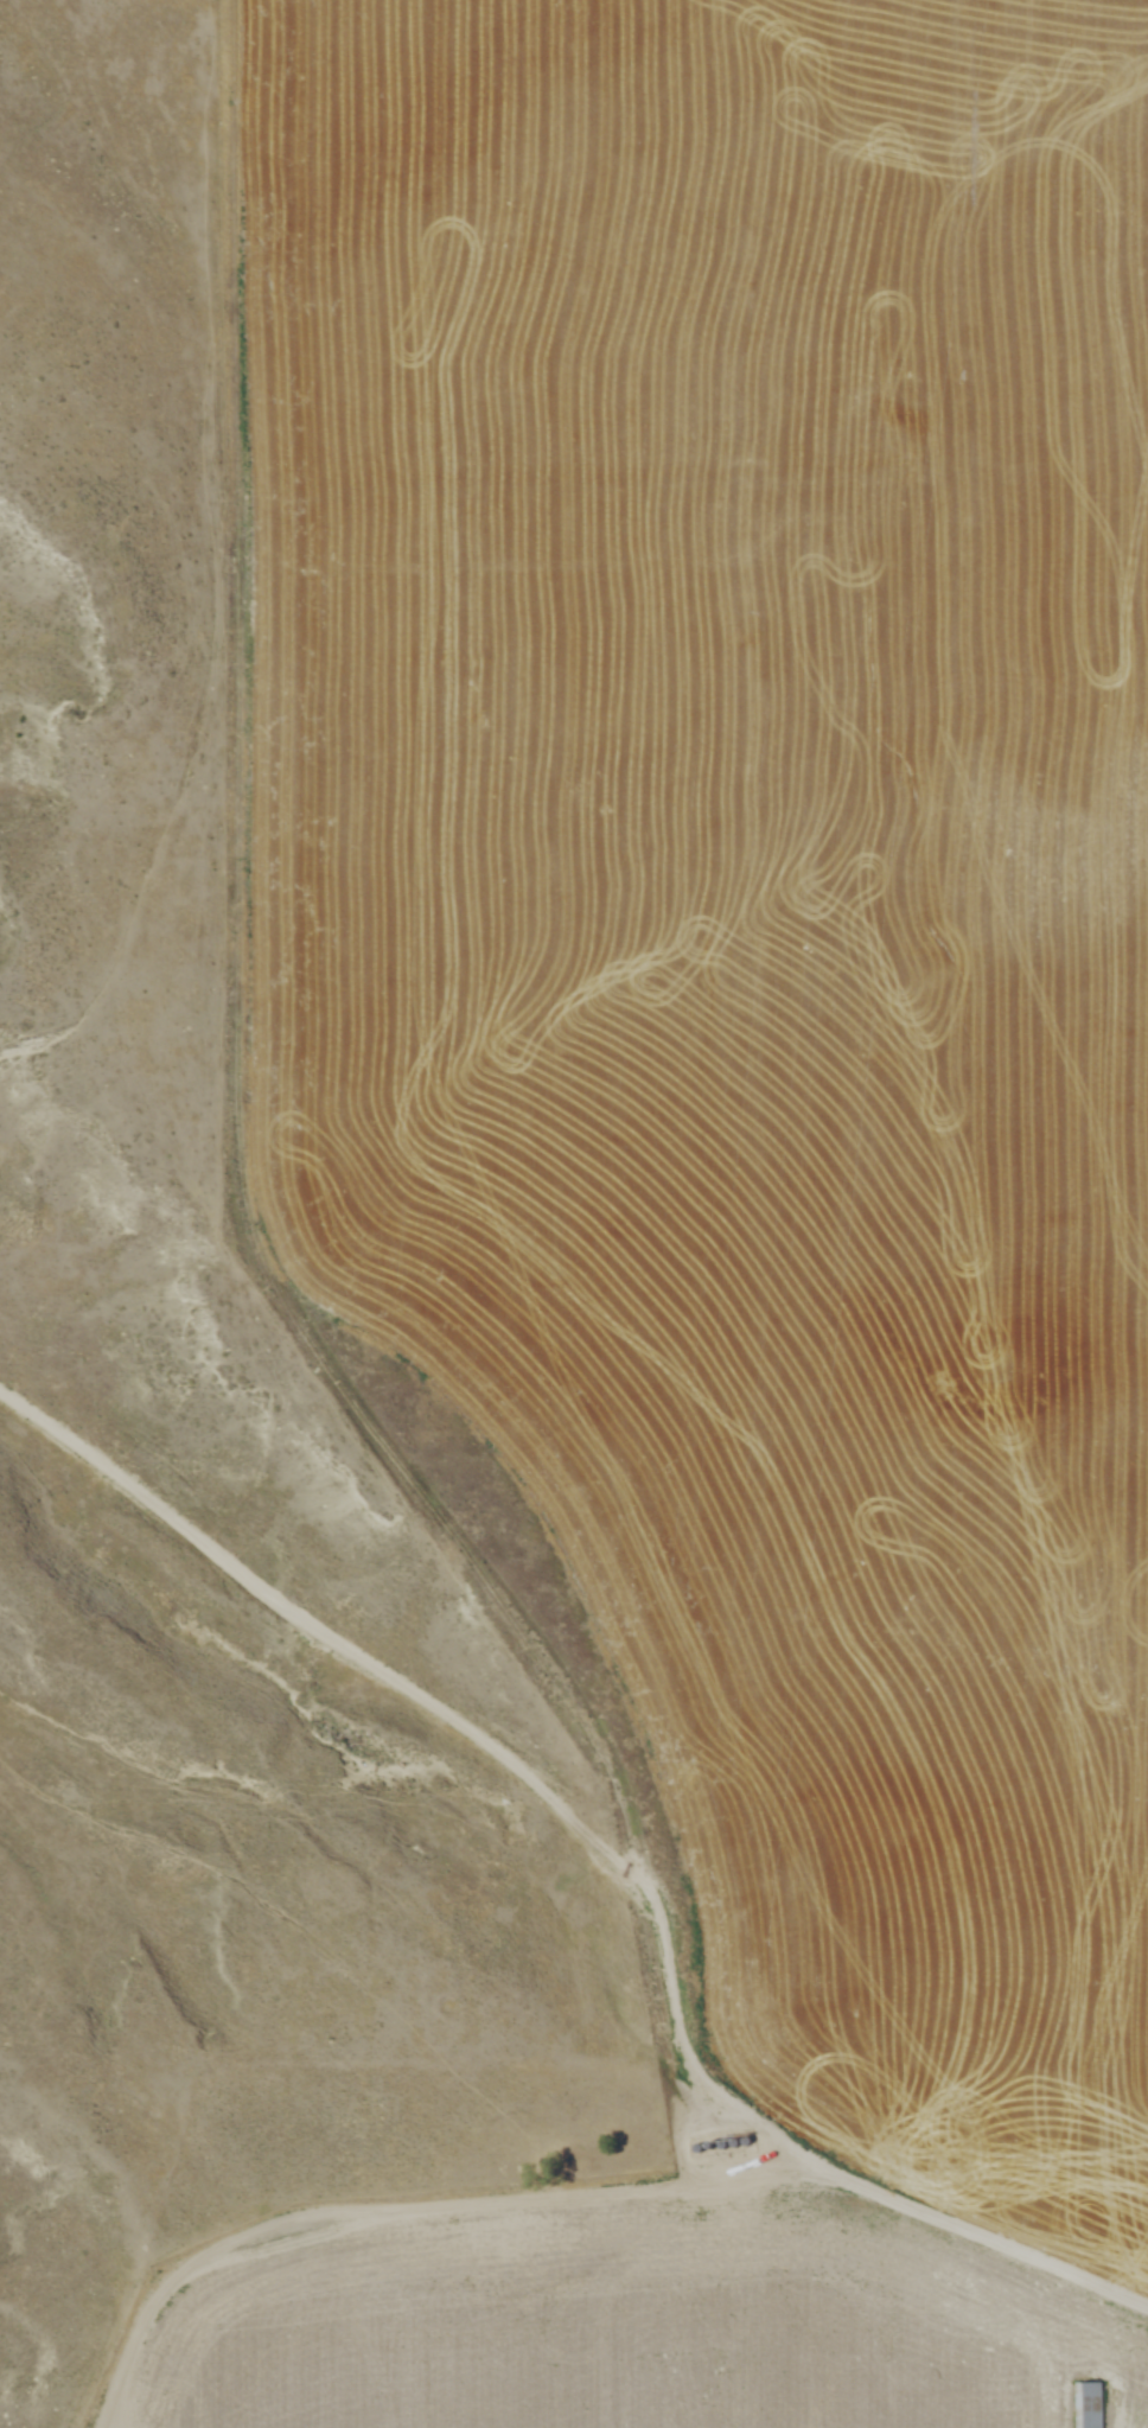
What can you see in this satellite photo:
building: (1091, 2404)

